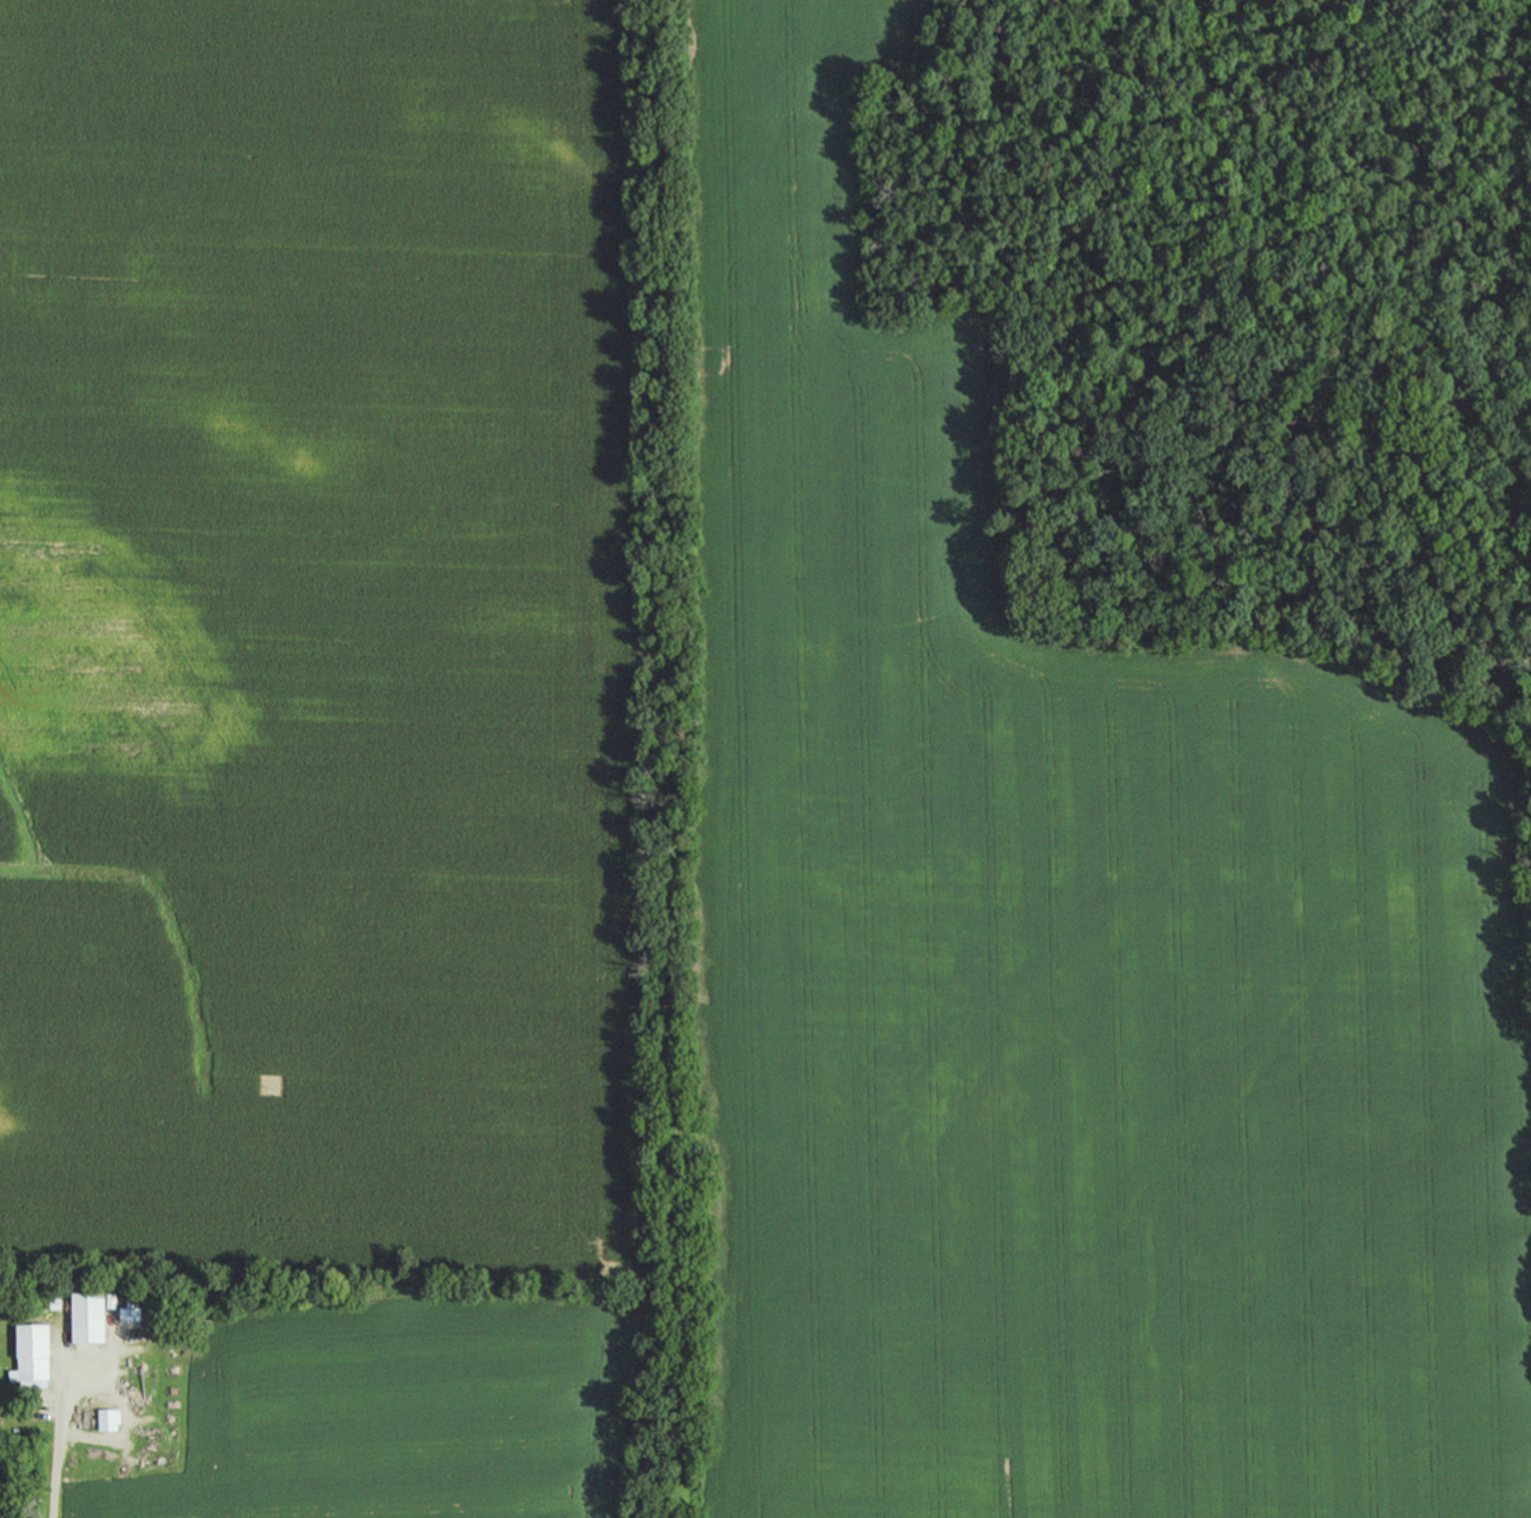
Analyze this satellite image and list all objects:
building: (127, 1311)
building: (85, 1318)
building: (30, 1356)
building: (106, 1419)
road: (58, 1449)

